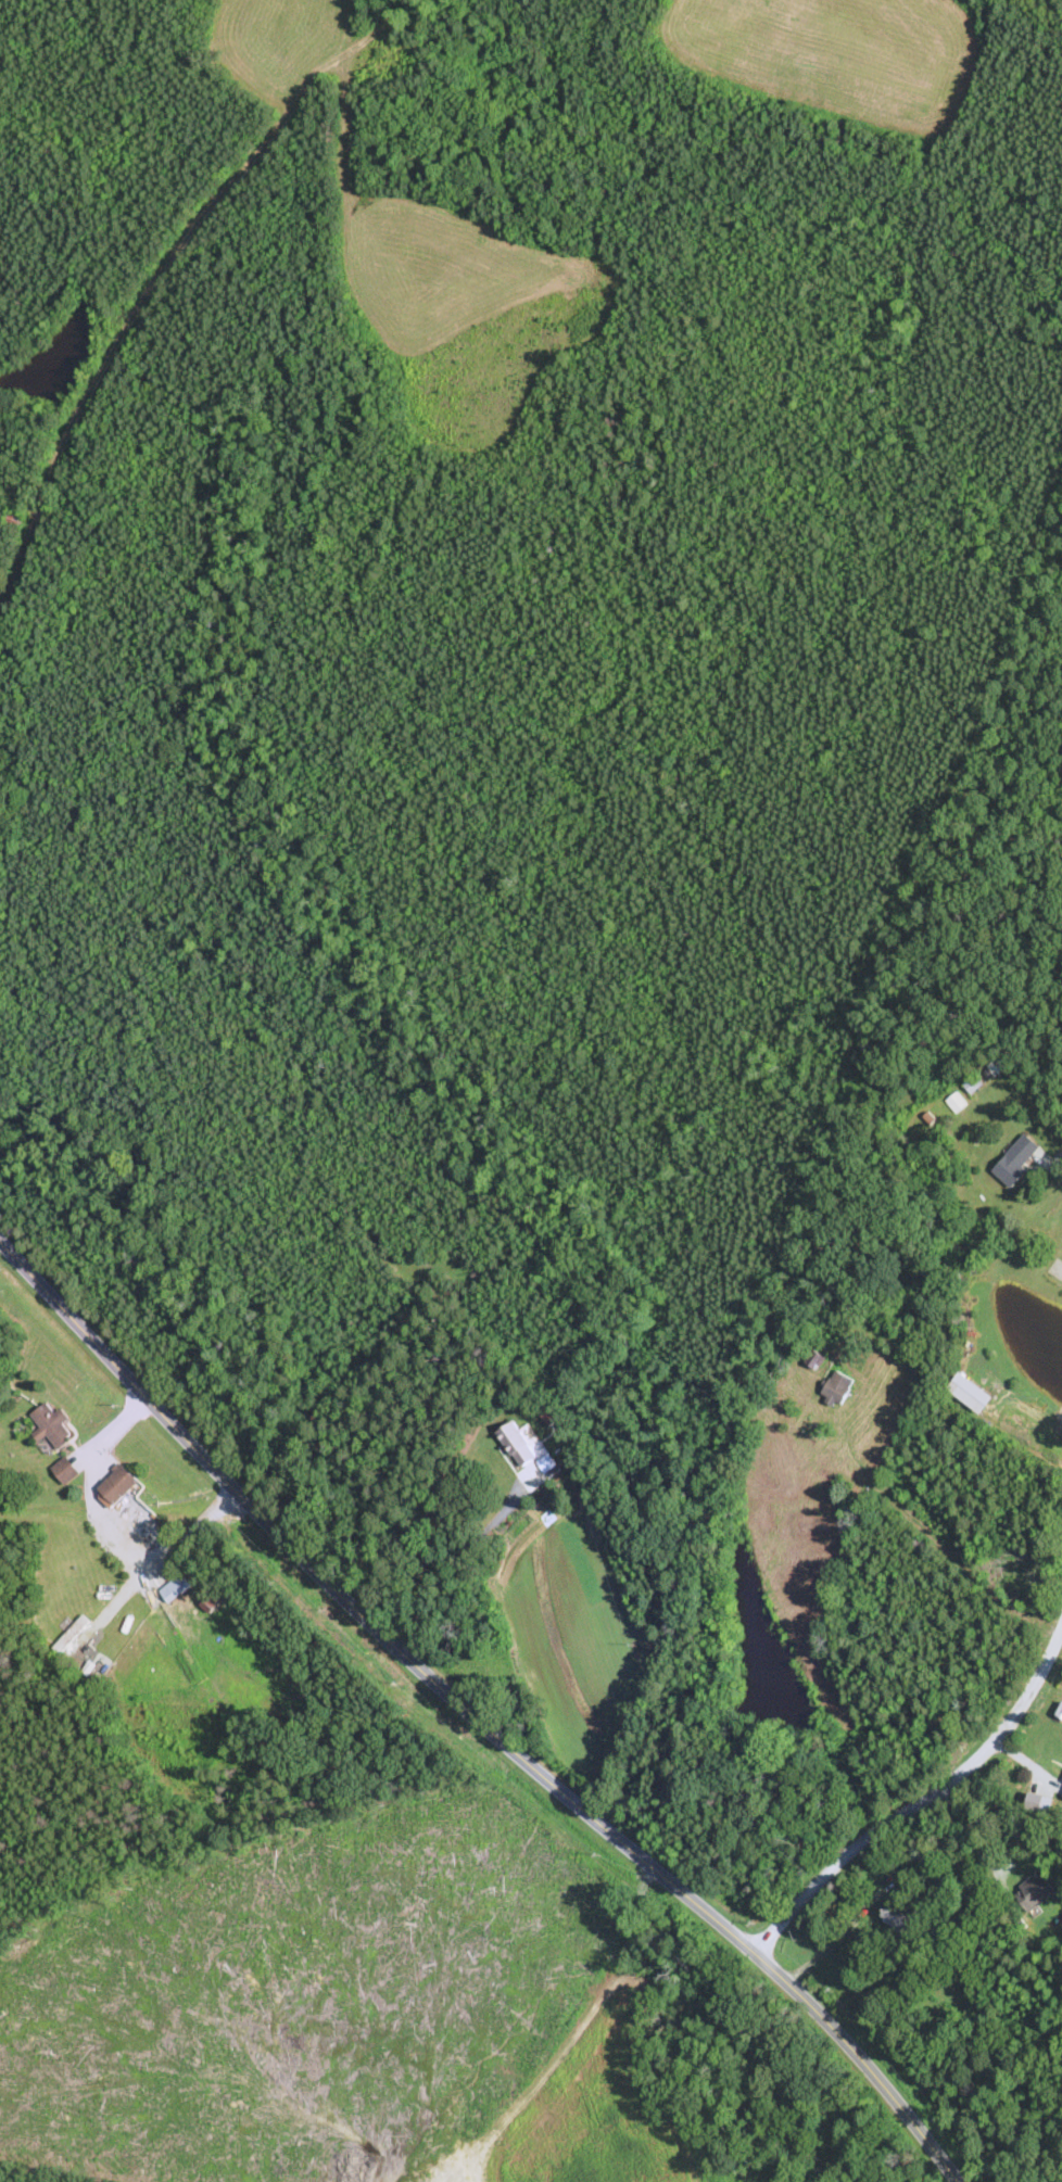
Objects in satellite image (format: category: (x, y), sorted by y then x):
building: (14, 520)
building: (1001, 1064)
building: (1017, 1158)
road: (1060, 1171)
building: (837, 1387)
building: (971, 1392)
building: (549, 1411)
building: (53, 1424)
building: (517, 1443)
road: (1028, 1444)
building: (65, 1470)
building: (118, 1484)
road: (87, 1485)
road: (195, 1532)
road: (459, 1553)
road: (477, 1714)
building: (1061, 1793)
road: (933, 1797)
building: (1042, 1802)
road: (978, 1838)
building: (1035, 1892)
building: (897, 1917)

